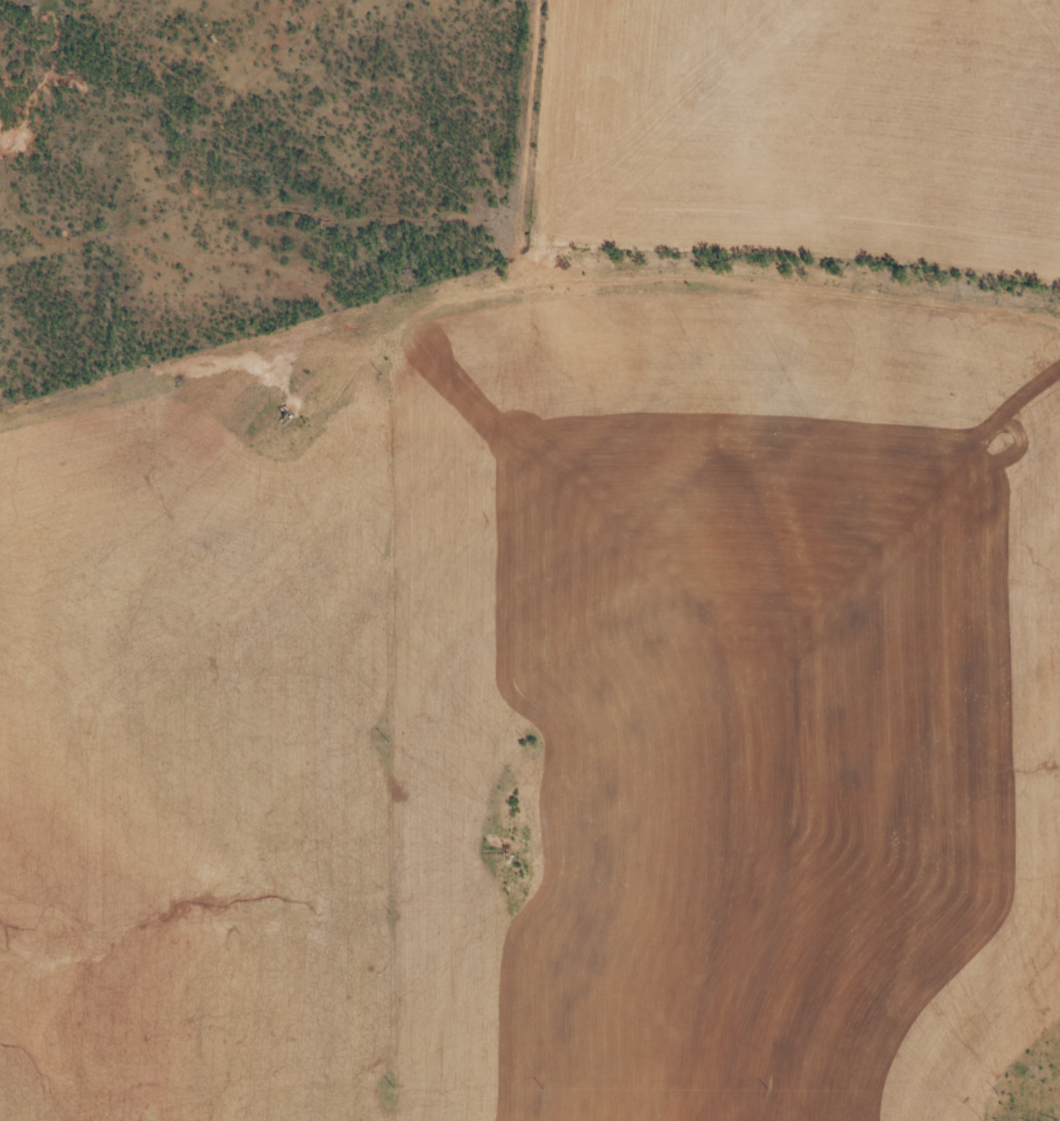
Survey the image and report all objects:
road: (272, 22)

